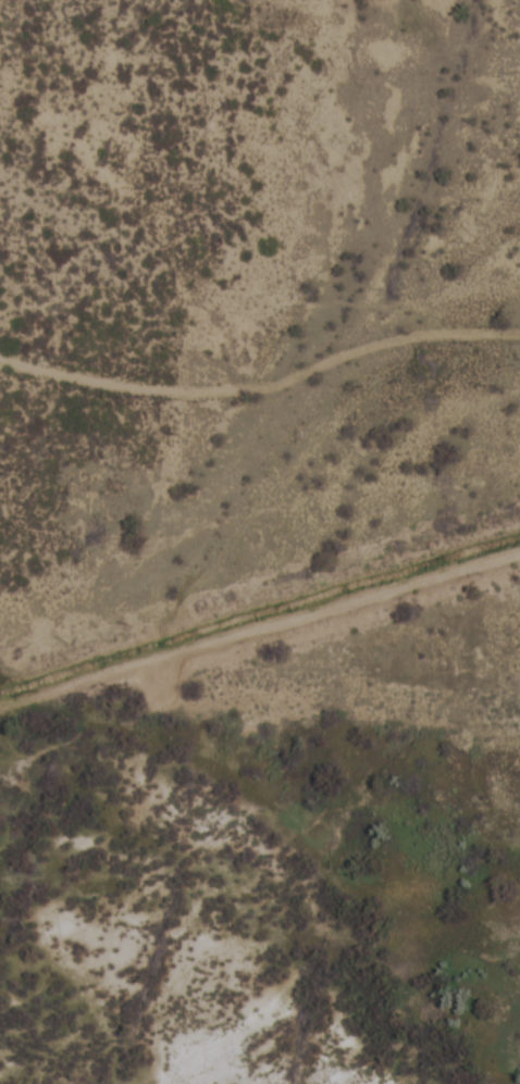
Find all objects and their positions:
road: (262, 386)
road: (260, 631)

